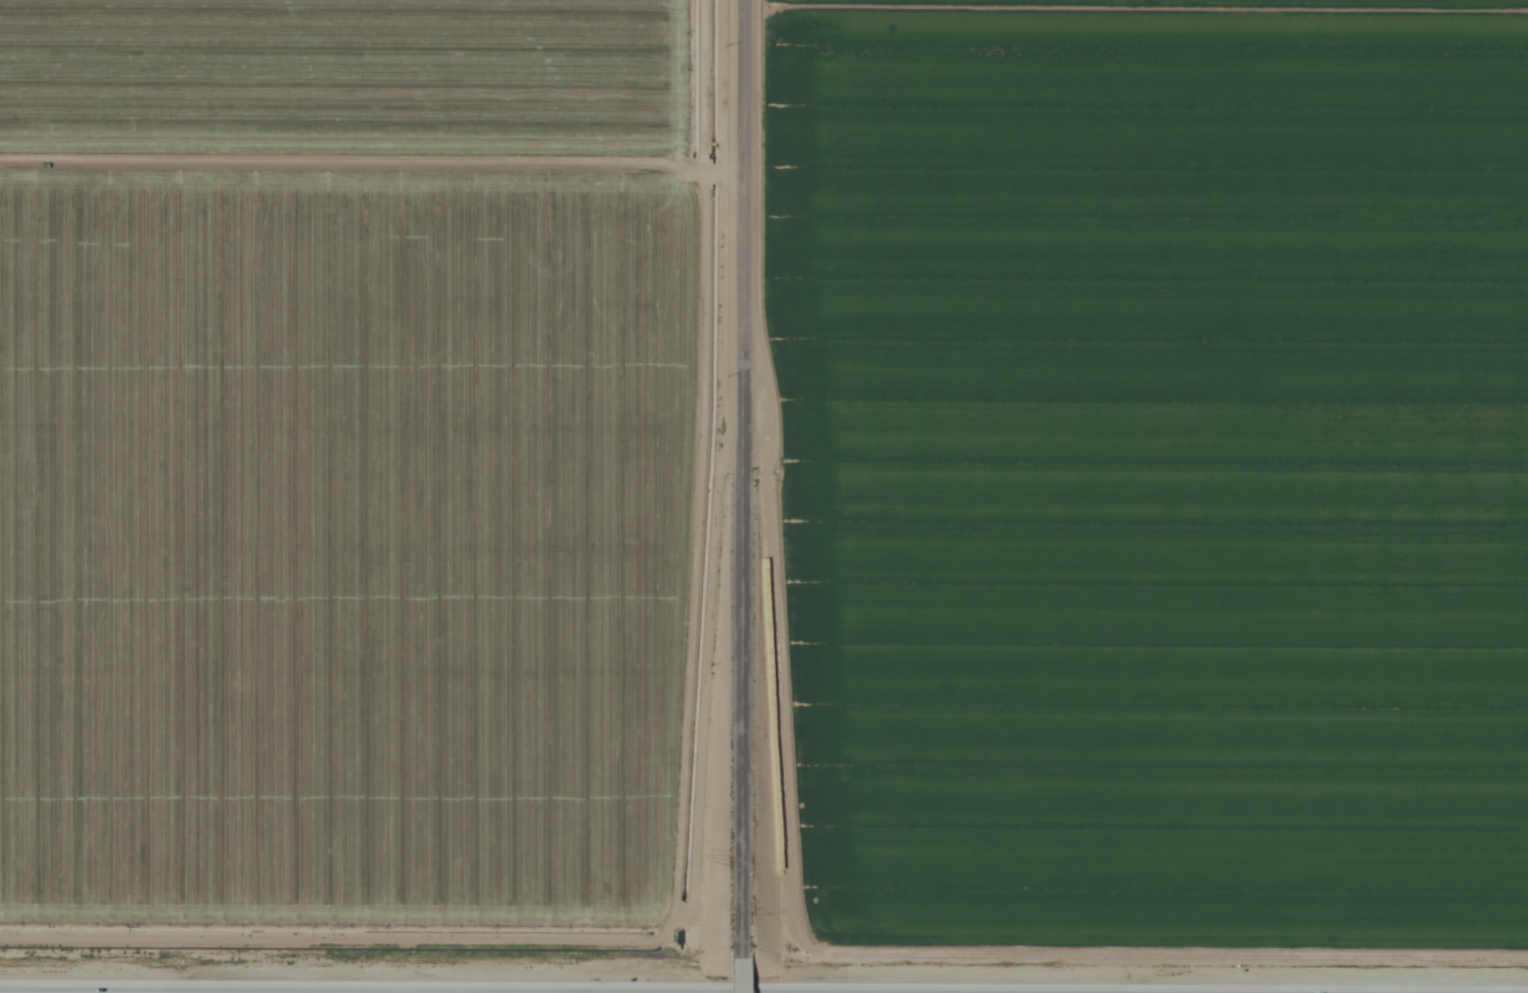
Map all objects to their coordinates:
road: (747, 467)
road: (740, 964)

